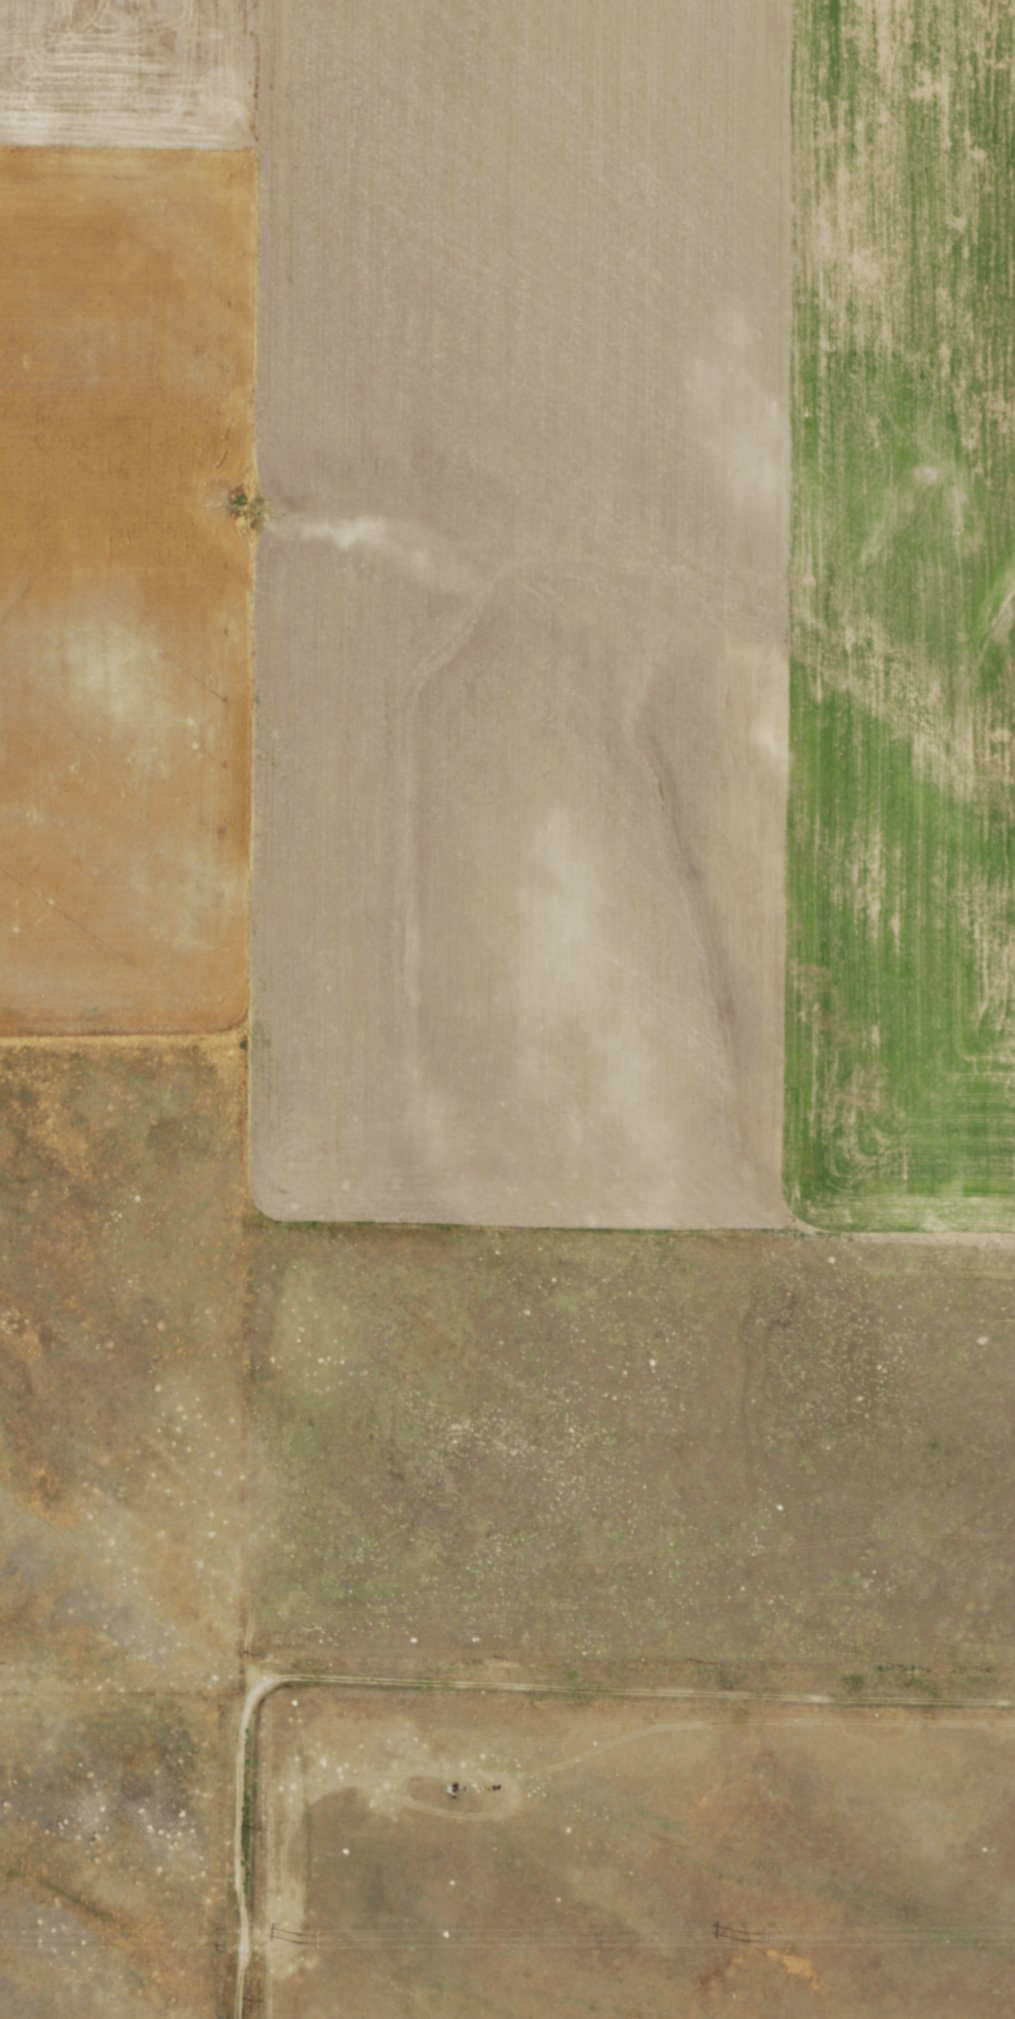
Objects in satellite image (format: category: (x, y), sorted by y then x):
crop: (523, 592)
road: (639, 1687)
road: (247, 1848)
power tower: (747, 1936)
power tower: (303, 1939)

